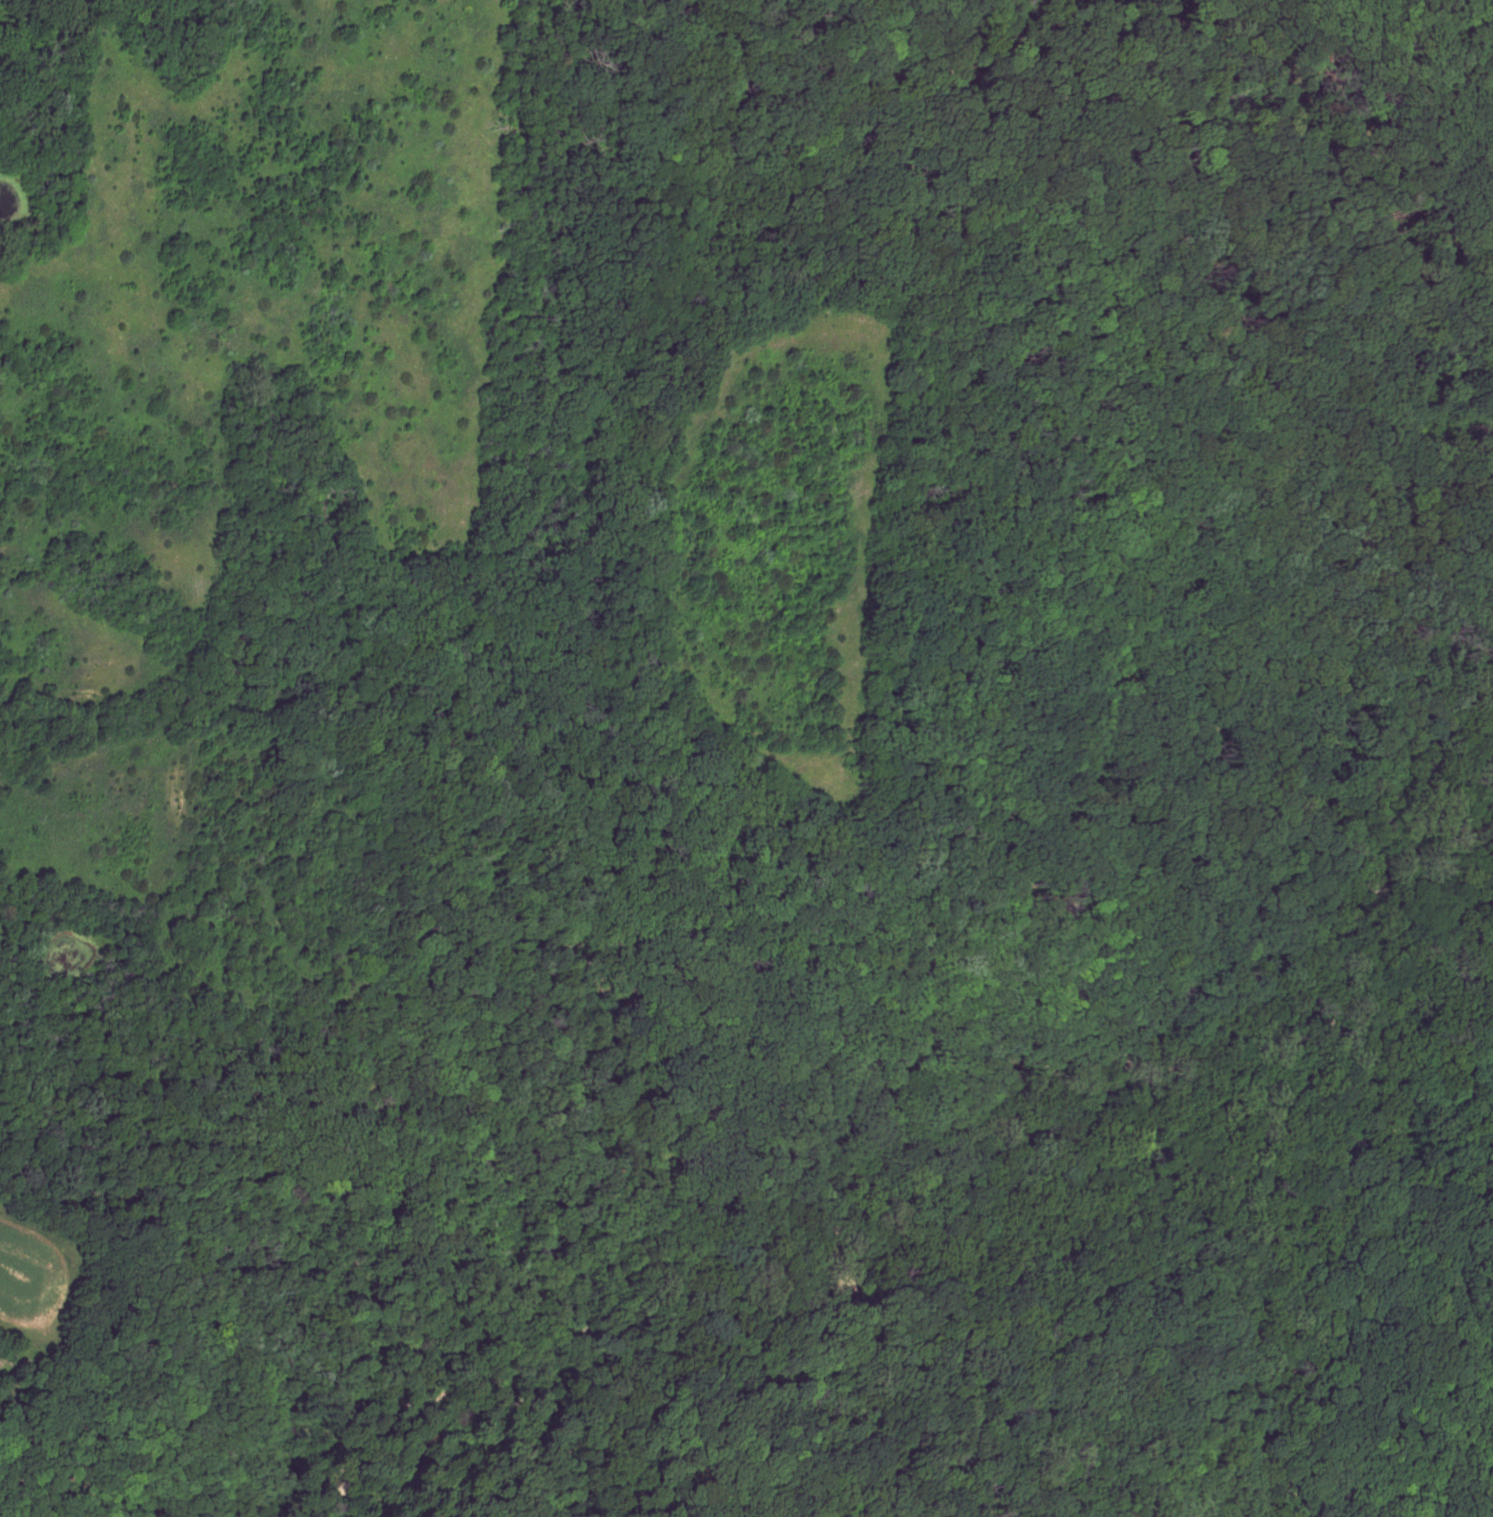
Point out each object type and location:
road: (1478, 16)
road: (1409, 219)
park: (746, 758)
road: (998, 946)
road: (1235, 1100)
road: (1345, 1195)
road: (743, 1198)

